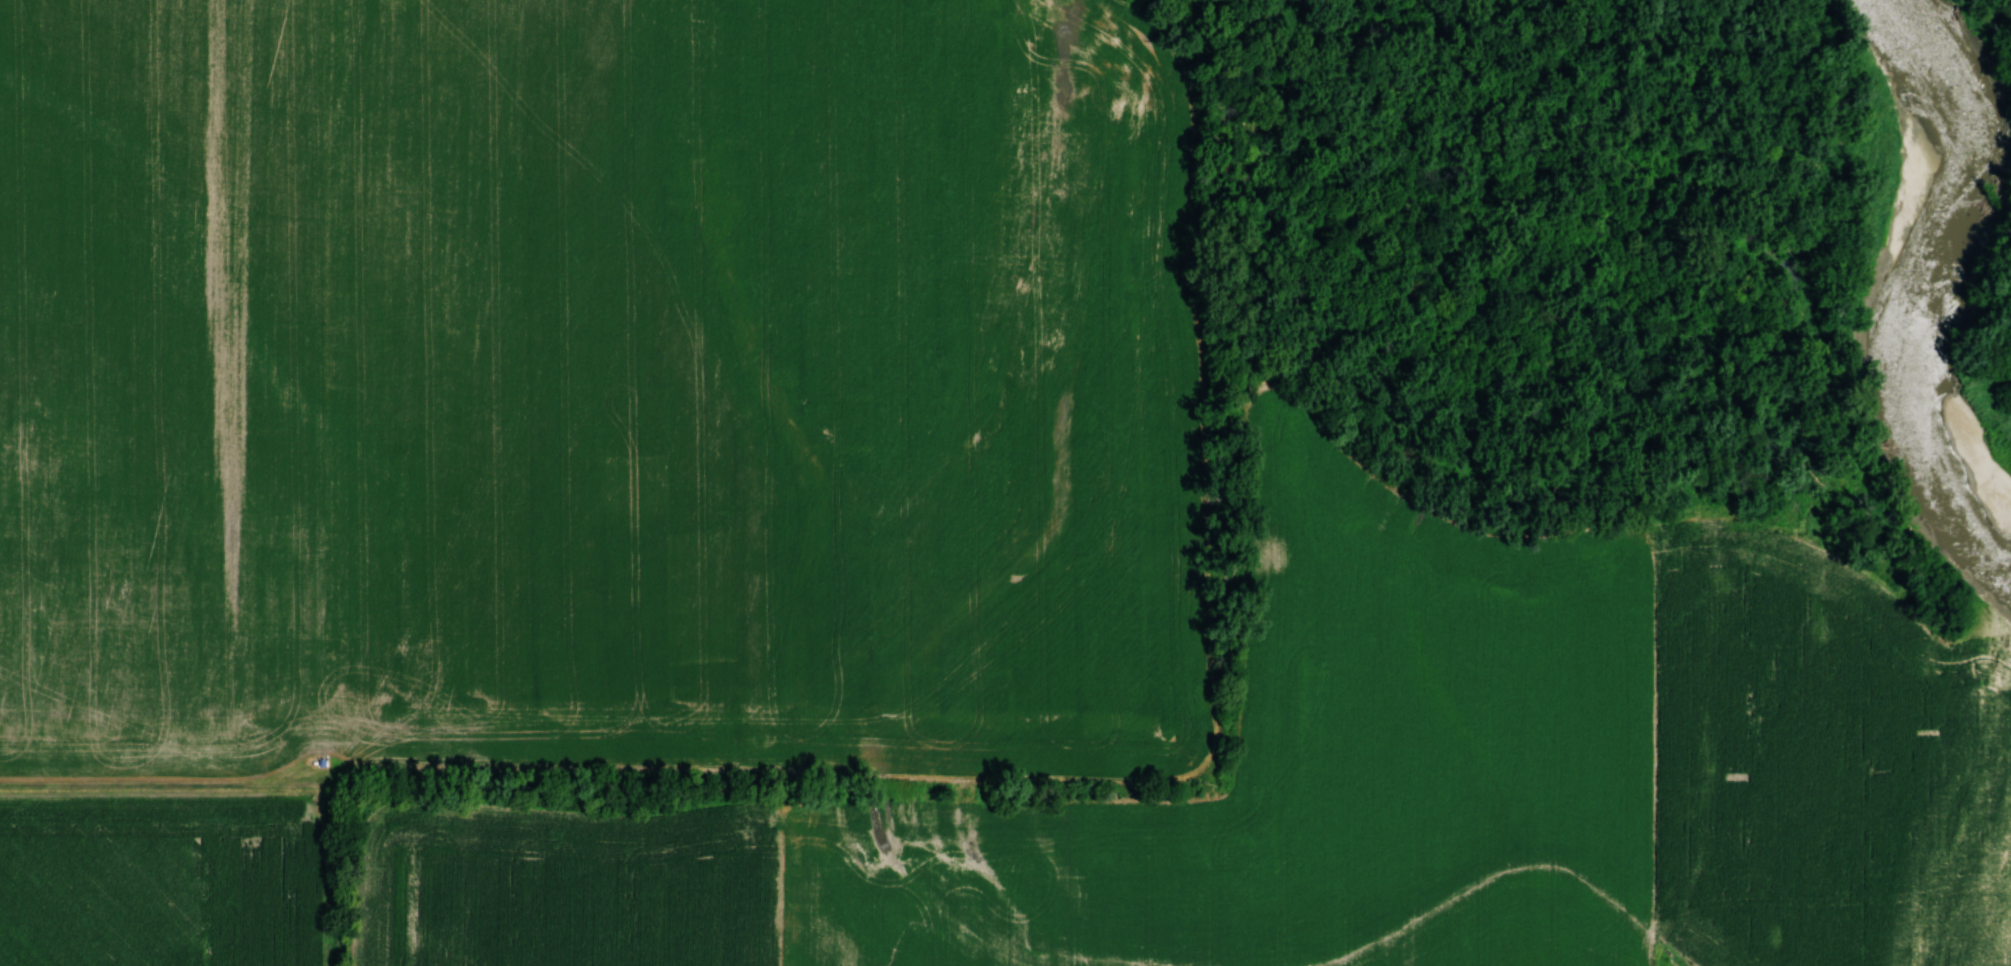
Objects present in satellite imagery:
river: (1930, 264)

